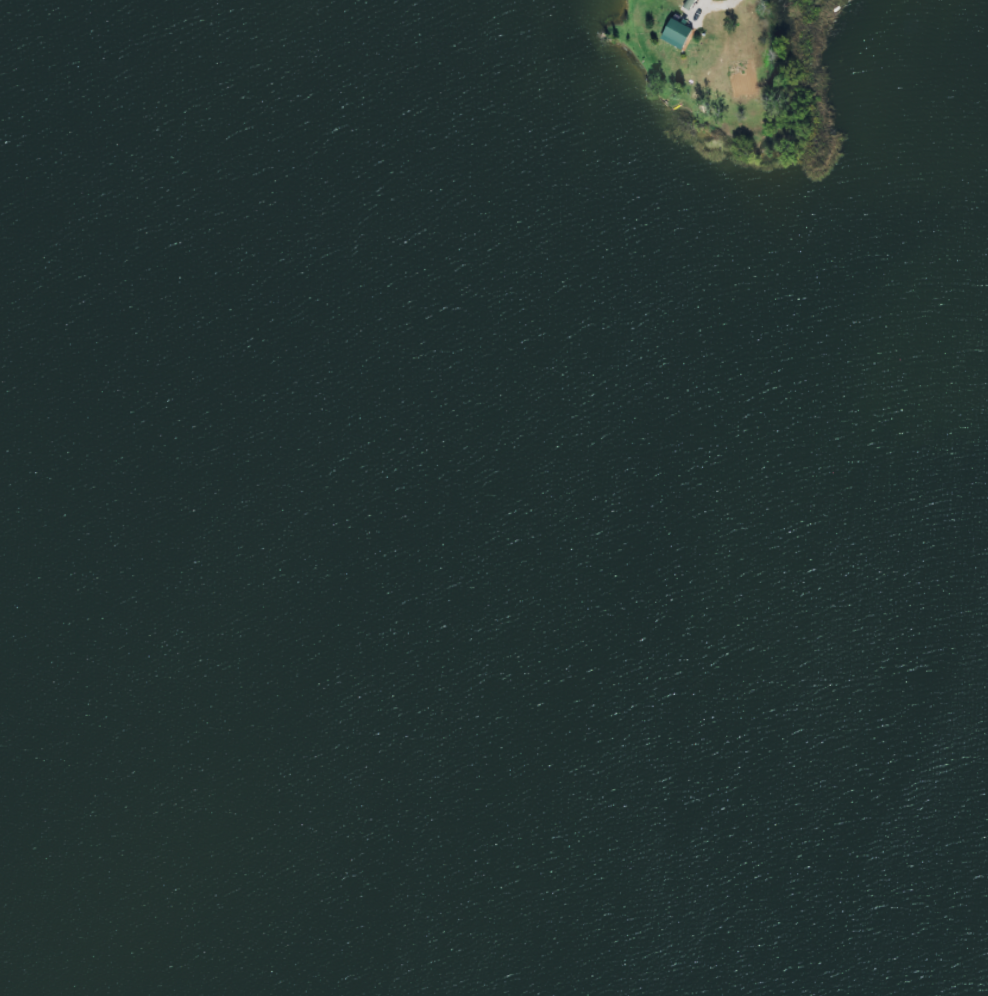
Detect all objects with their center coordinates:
river: (44, 952)

